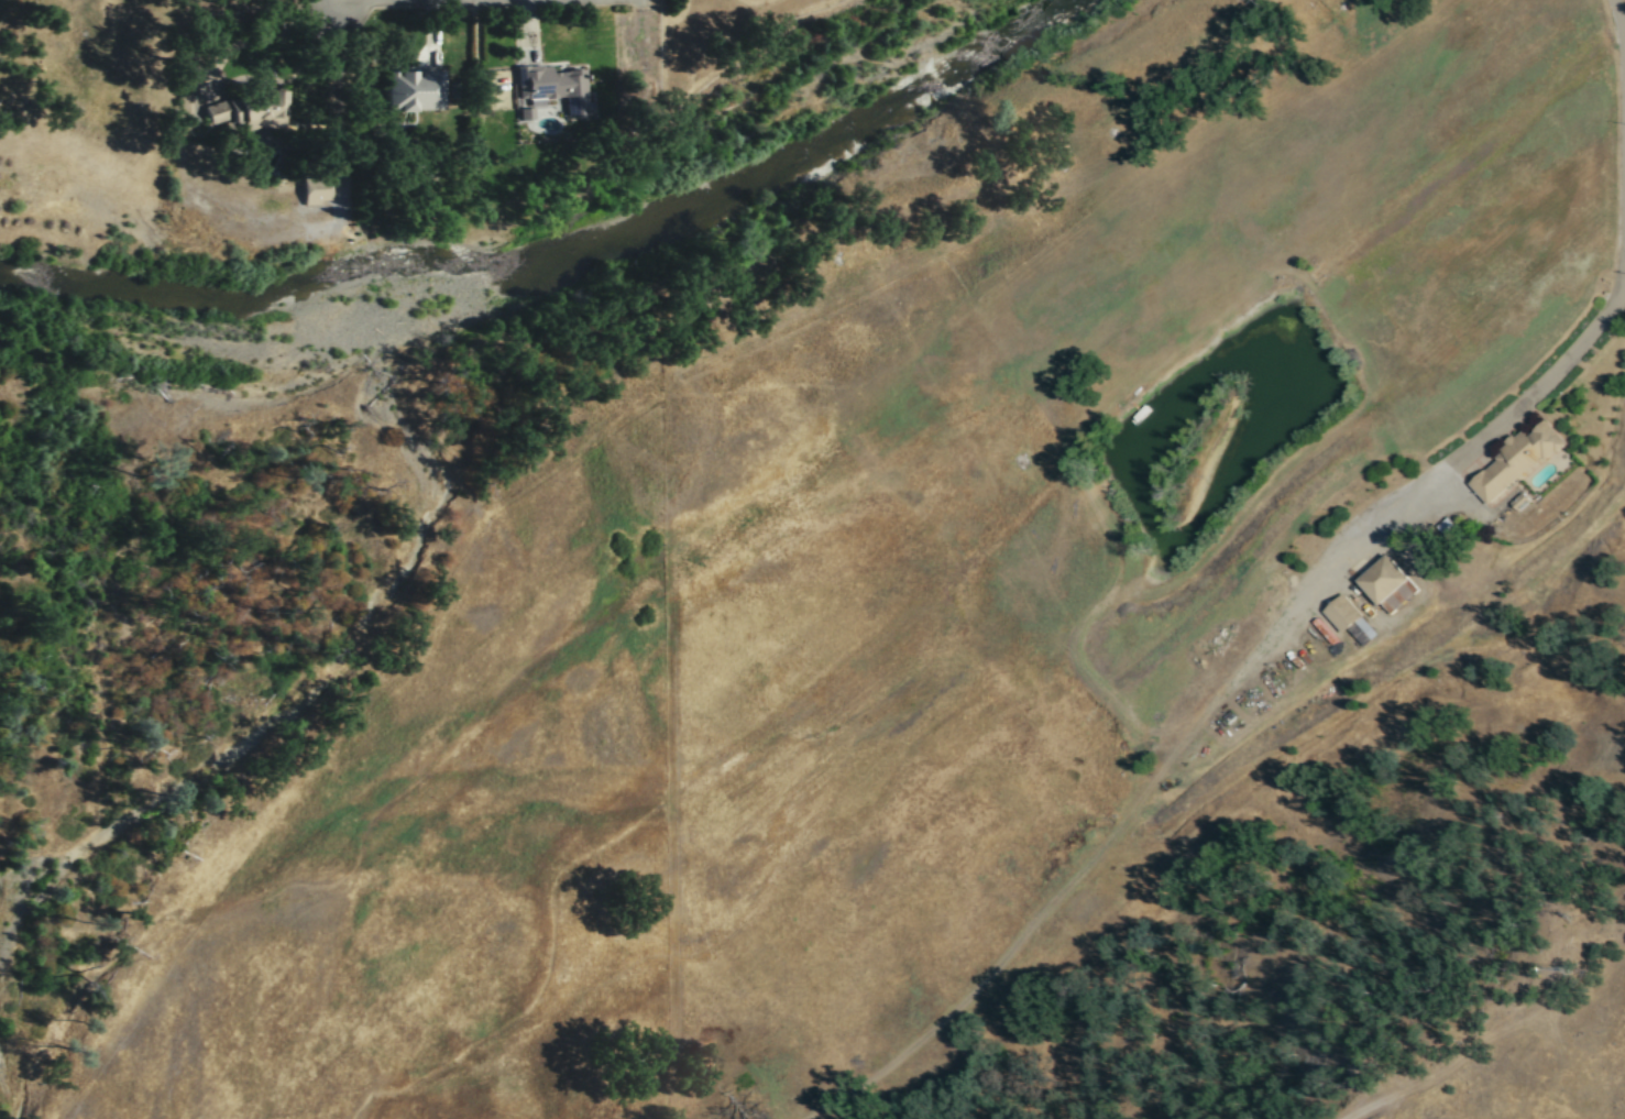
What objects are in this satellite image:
road: (1621, 26)
building: (556, 85)
building: (413, 89)
road: (337, 97)
building: (263, 108)
building: (526, 112)
building: (315, 187)
river: (718, 188)
river: (174, 295)
road: (1547, 382)
building: (1517, 459)
building: (1390, 584)
building: (1343, 612)
building: (1363, 630)
road: (1089, 860)
road: (1386, 1097)

